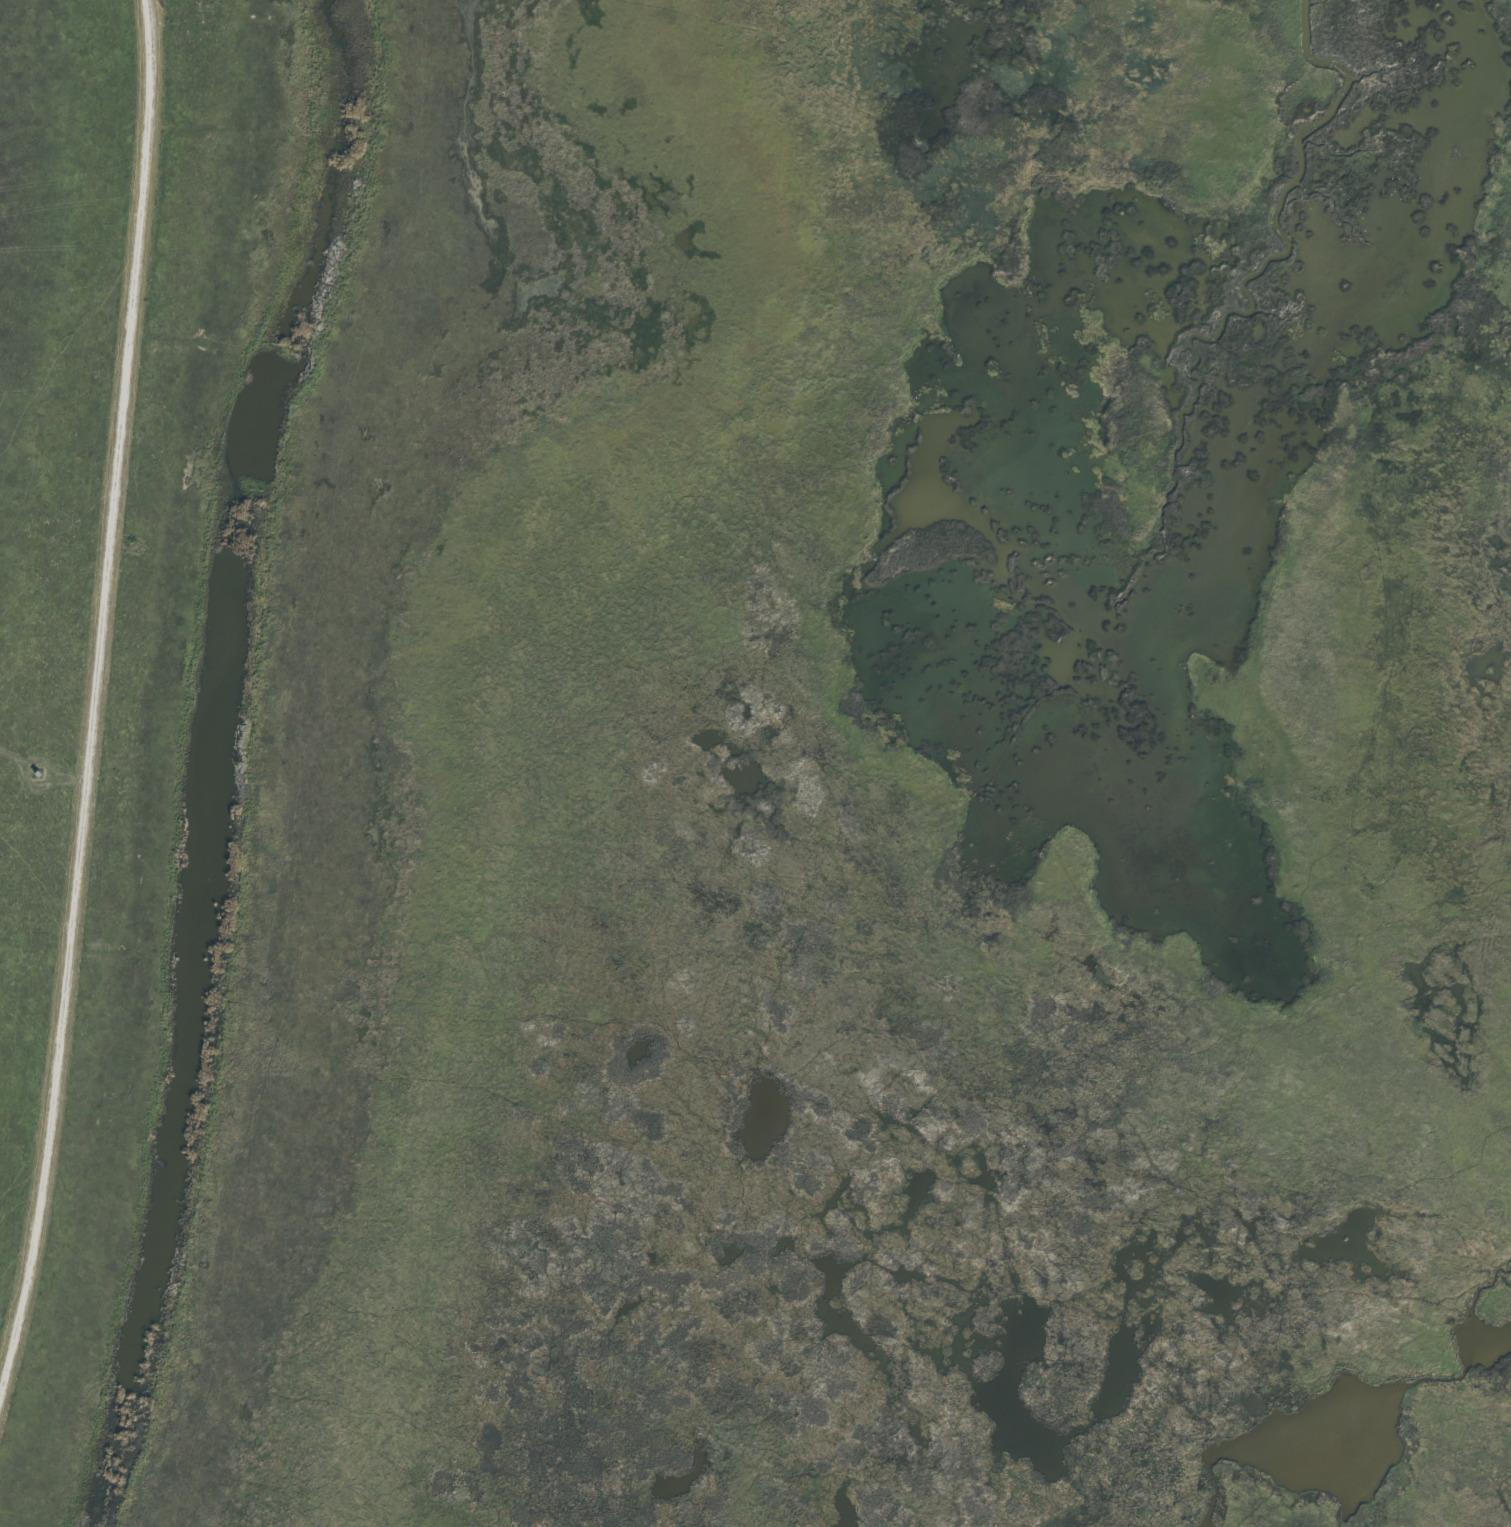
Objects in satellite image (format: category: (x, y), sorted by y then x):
road: (97, 701)

